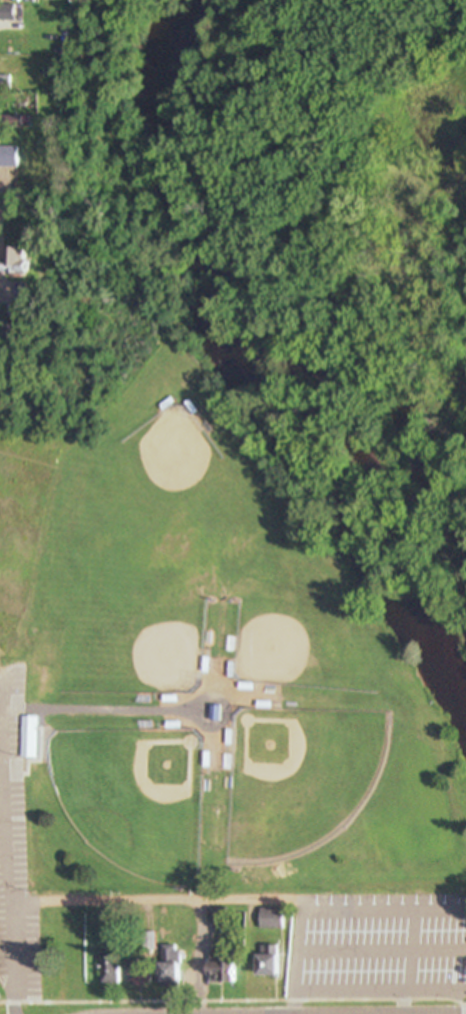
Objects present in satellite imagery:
building: (9, 16)
road: (5, 192)
park: (459, 235)
river: (257, 356)
park: (212, 699)
building: (34, 737)
road: (9, 842)
parking lot: (15, 851)
road: (212, 902)
road: (382, 914)
parking lot: (377, 947)
road: (379, 951)
building: (261, 964)
road: (408, 964)
building: (163, 967)
building: (133, 974)
building: (215, 974)
road: (376, 993)
road: (253, 1001)

